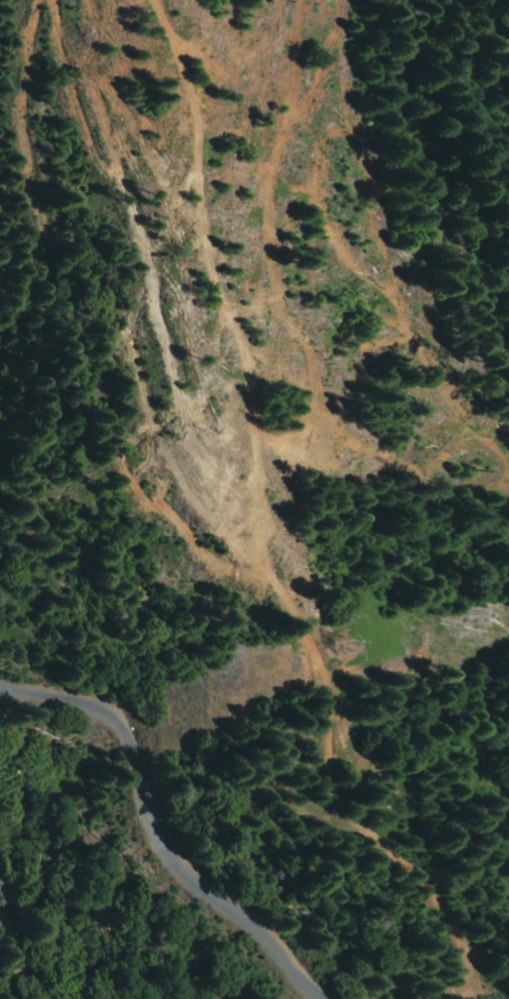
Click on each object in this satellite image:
power tower: (340, 651)
road: (163, 826)

